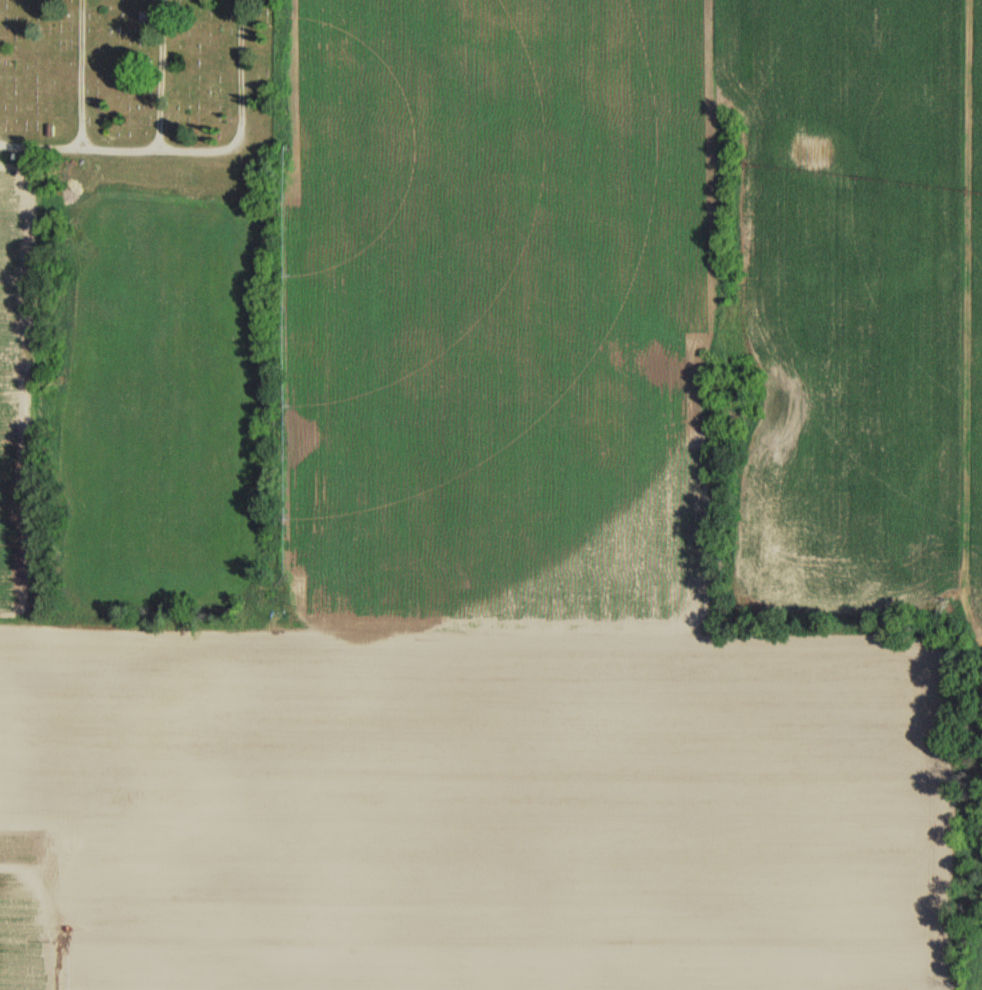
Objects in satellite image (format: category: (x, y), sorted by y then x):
road: (83, 74)
road: (159, 75)
park: (143, 98)
road: (197, 150)

